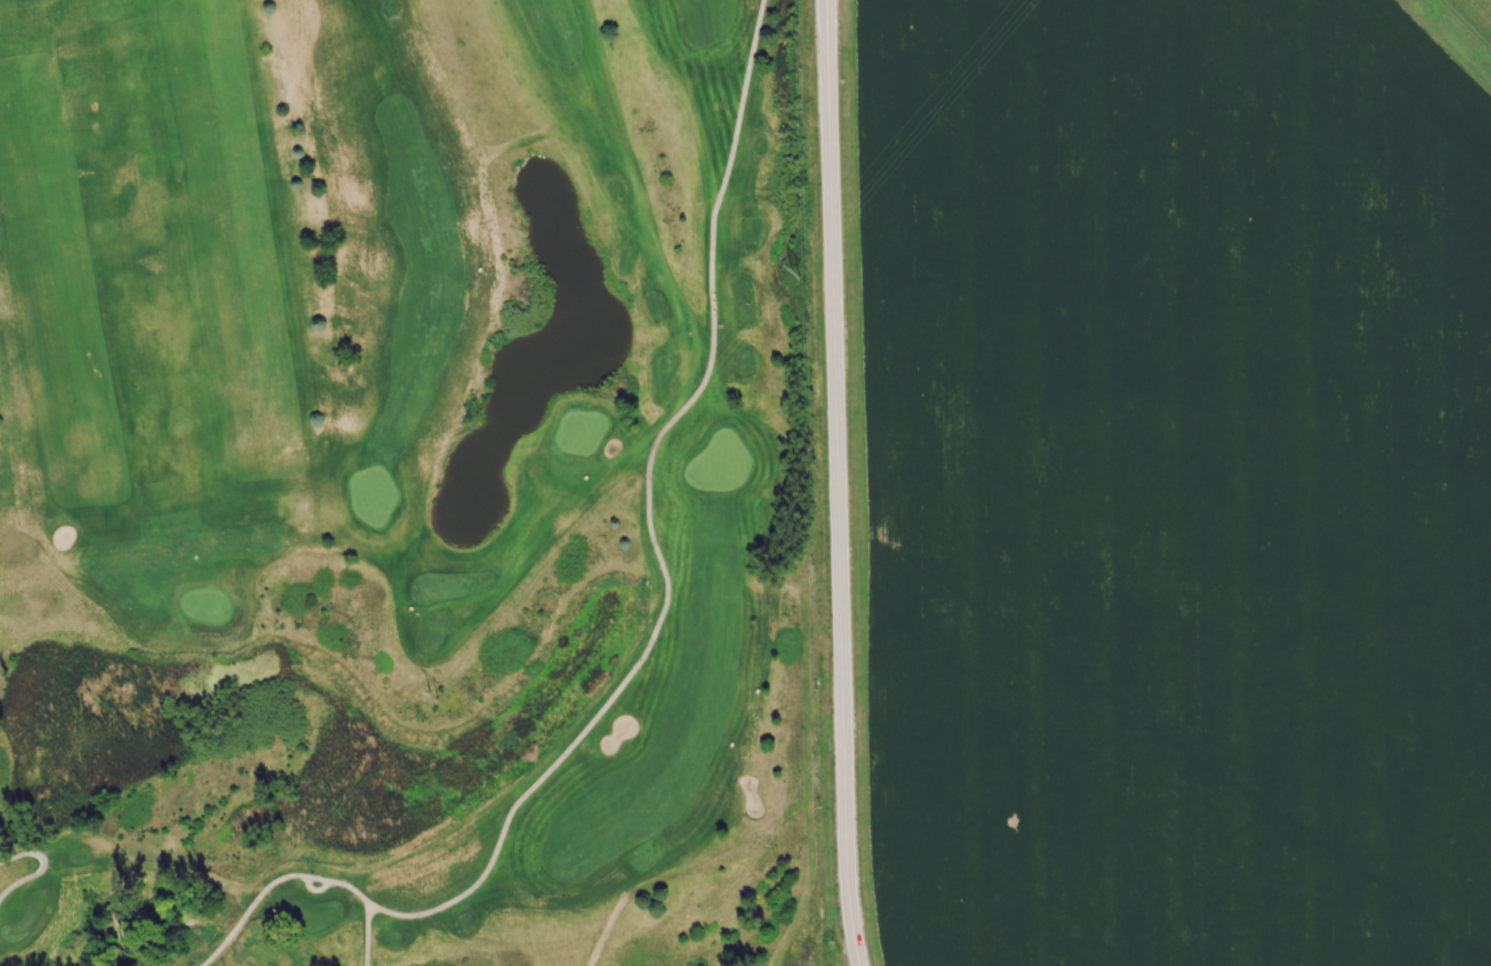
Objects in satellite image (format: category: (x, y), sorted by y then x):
road: (1465, 24)
power tower: (800, 275)
road: (836, 483)
crop: (1174, 483)
park: (407, 484)
road: (648, 519)
power tower: (439, 695)
road: (42, 866)
road: (318, 878)
road: (314, 889)
road: (353, 889)
road: (248, 909)
road: (366, 935)

